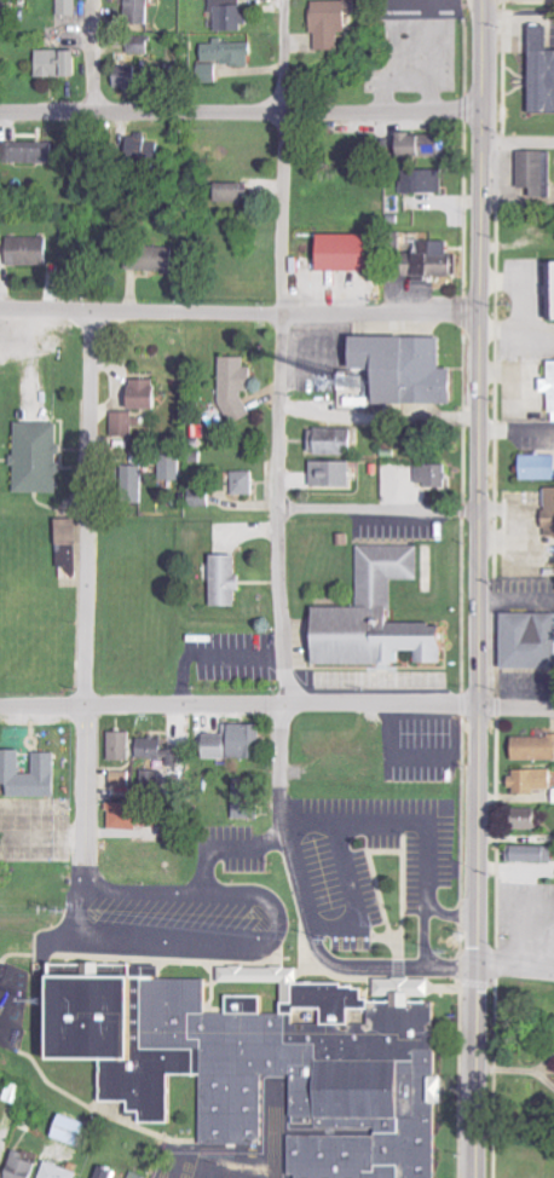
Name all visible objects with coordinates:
road: (412, 4)
building: (70, 7)
parking lot: (419, 8)
building: (140, 12)
building: (232, 15)
building: (333, 22)
road: (386, 37)
building: (229, 52)
road: (461, 52)
road: (92, 57)
building: (60, 63)
building: (137, 67)
road: (425, 67)
building: (538, 71)
road: (238, 111)
road: (515, 140)
building: (415, 142)
building: (34, 152)
building: (527, 171)
building: (415, 179)
building: (235, 192)
building: (31, 250)
building: (341, 250)
building: (152, 258)
building: (425, 262)
building: (547, 288)
road: (237, 311)
parking lot: (316, 354)
building: (402, 366)
building: (237, 387)
building: (547, 387)
road: (276, 393)
building: (146, 394)
building: (125, 425)
building: (335, 441)
building: (40, 457)
building: (531, 466)
building: (173, 467)
building: (140, 472)
building: (425, 473)
building: (334, 474)
building: (246, 483)
building: (202, 497)
building: (544, 510)
road: (375, 512)
parking lot: (392, 526)
building: (70, 548)
building: (229, 579)
road: (474, 588)
road: (86, 602)
building: (374, 614)
building: (521, 640)
road: (206, 654)
parking lot: (229, 654)
parking lot: (374, 678)
road: (236, 701)
road: (514, 706)
building: (237, 743)
parking lot: (415, 744)
building: (530, 744)
building: (123, 746)
building: (31, 774)
building: (122, 778)
building: (523, 778)
building: (247, 799)
road: (276, 810)
building: (133, 816)
building: (519, 816)
road: (416, 822)
building: (523, 851)
building: (552, 870)
parking lot: (327, 878)
road: (353, 897)
road: (306, 910)
road: (421, 929)
parking lot: (524, 932)
road: (264, 945)
road: (15, 953)
building: (260, 1058)
road: (94, 1111)
building: (75, 1131)
parking lot: (230, 1149)
building: (25, 1165)
building: (62, 1171)
building: (110, 1173)
building: (513, 1173)
building: (139, 1176)

